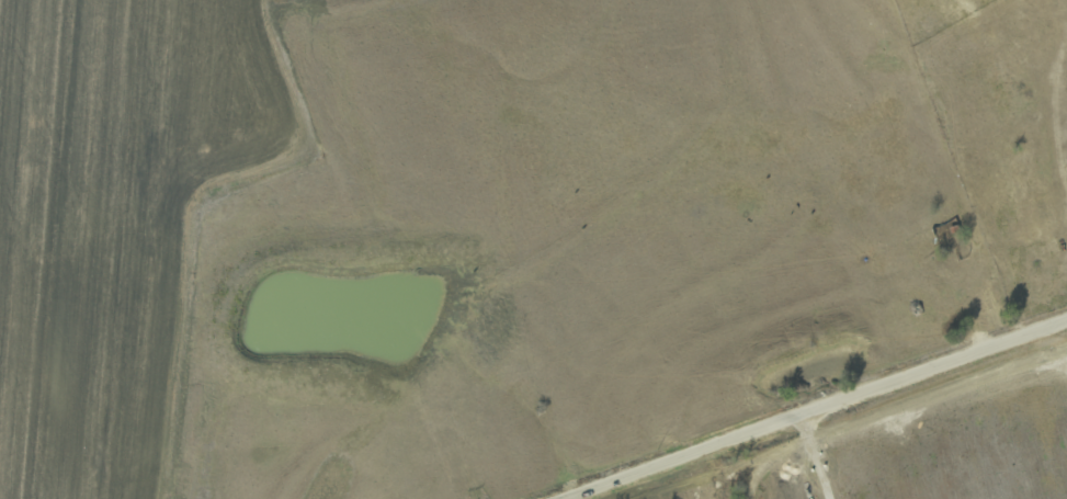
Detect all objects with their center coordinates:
road: (815, 408)

